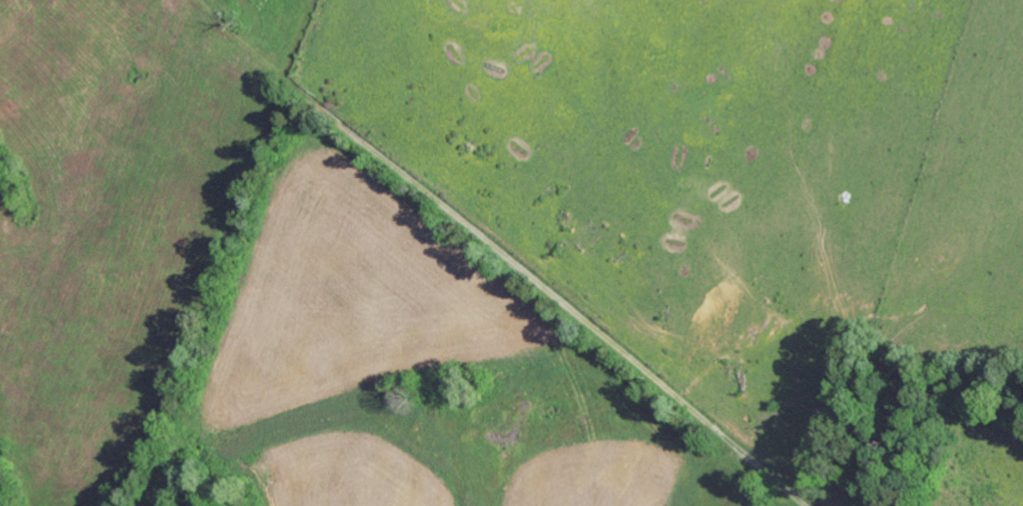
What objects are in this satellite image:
road: (260, 29)
road: (476, 252)

